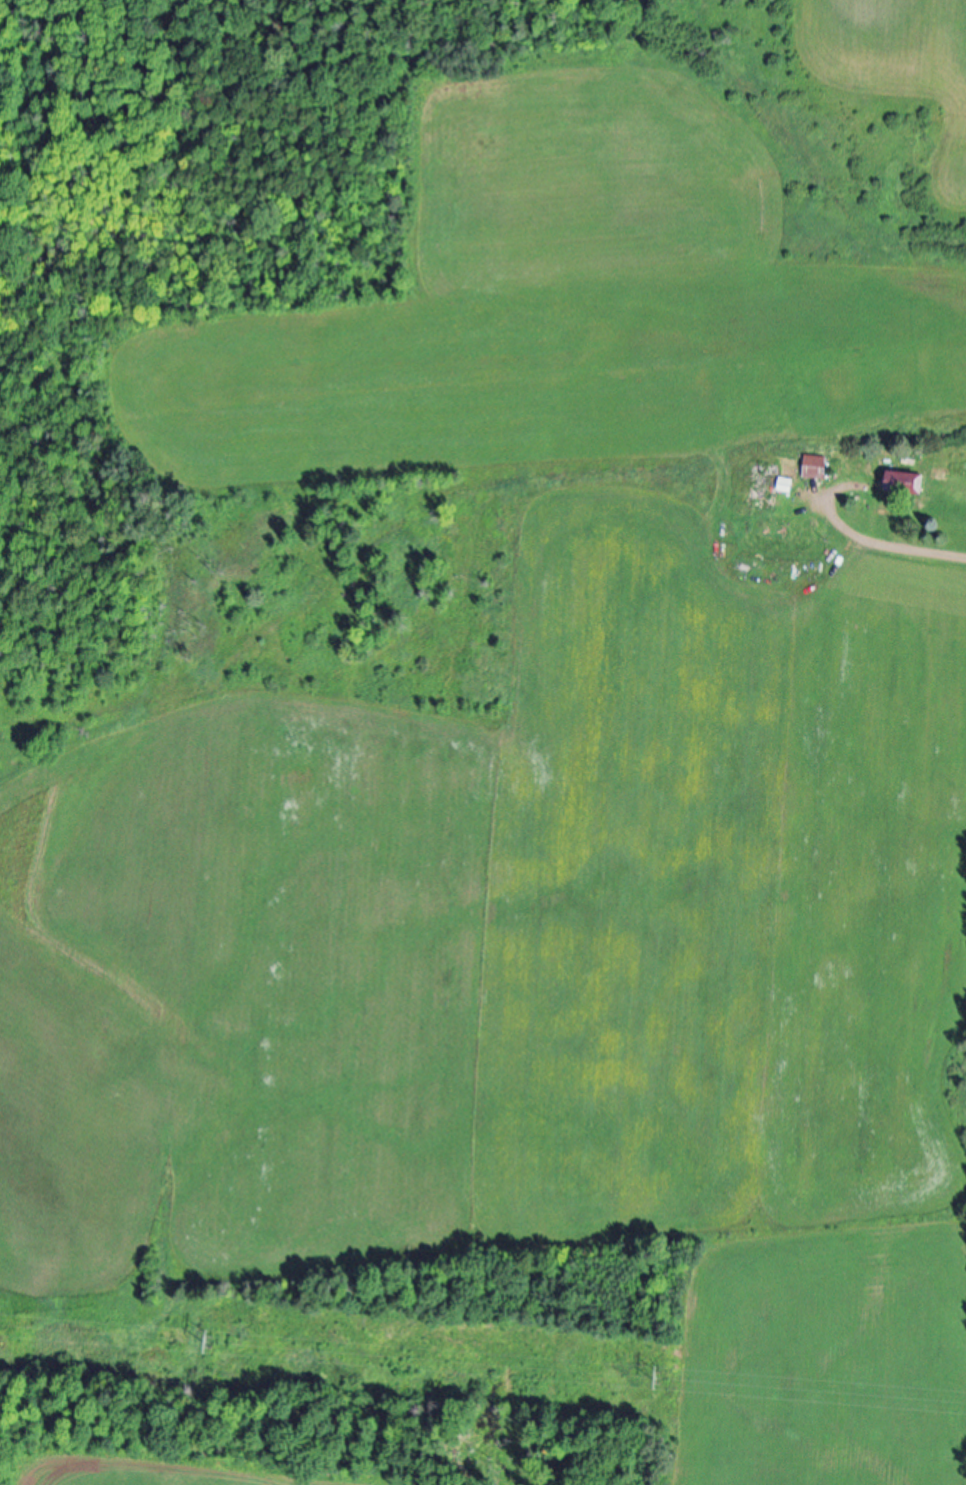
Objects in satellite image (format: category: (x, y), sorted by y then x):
building: (820, 470)
building: (910, 486)
building: (789, 488)
power tower: (217, 1344)
power tower: (662, 1381)

